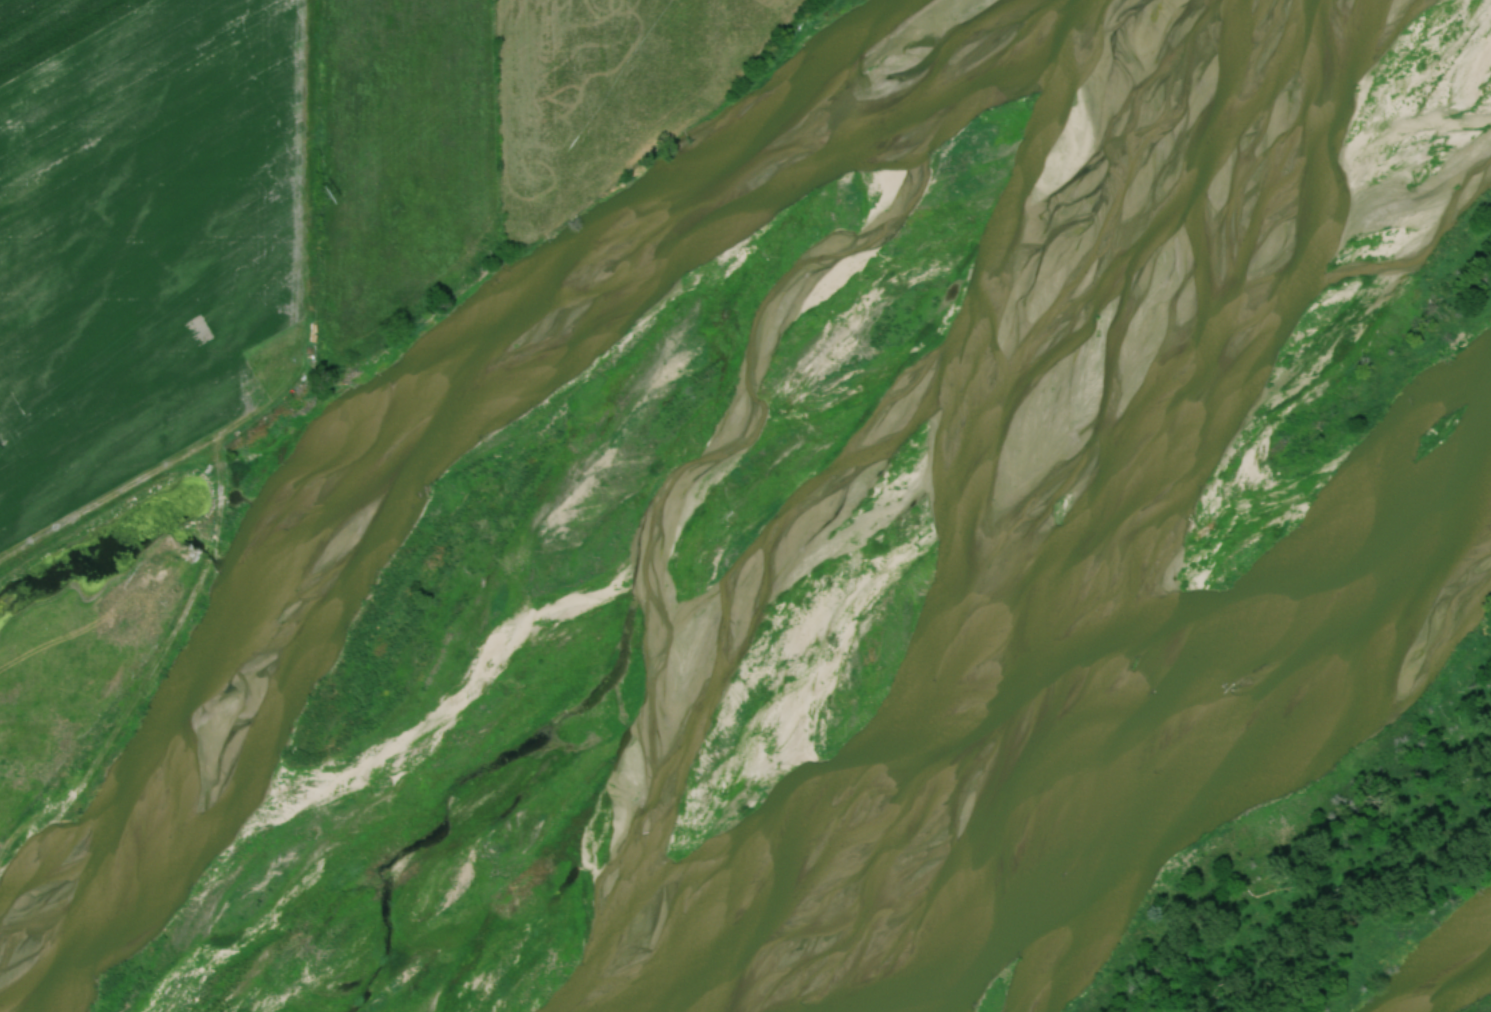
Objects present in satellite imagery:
power tower: (321, 197)
river: (1181, 754)

